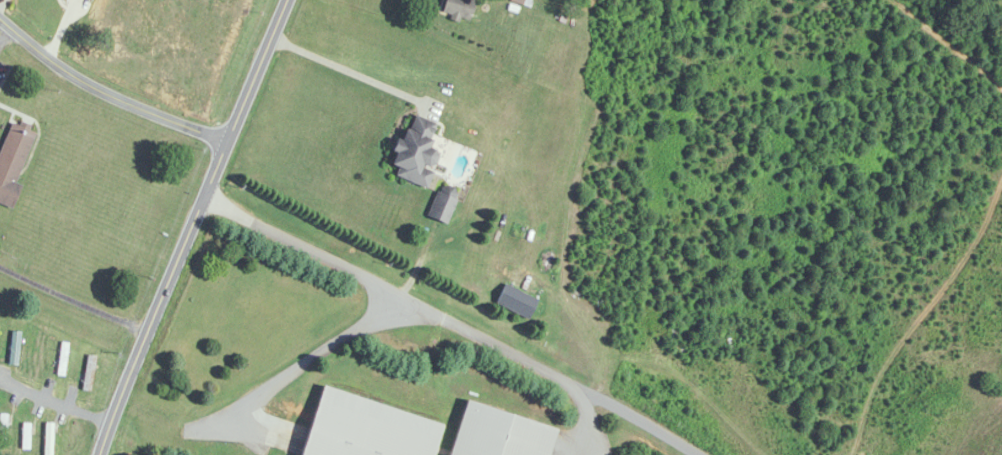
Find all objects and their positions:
building: (458, 8)
road: (6, 34)
road: (354, 72)
road: (102, 91)
building: (415, 150)
building: (14, 161)
building: (442, 205)
road: (185, 225)
road: (70, 299)
road: (451, 321)
building: (15, 348)
road: (314, 354)
road: (52, 401)
building: (366, 428)
building: (498, 434)
building: (48, 440)

